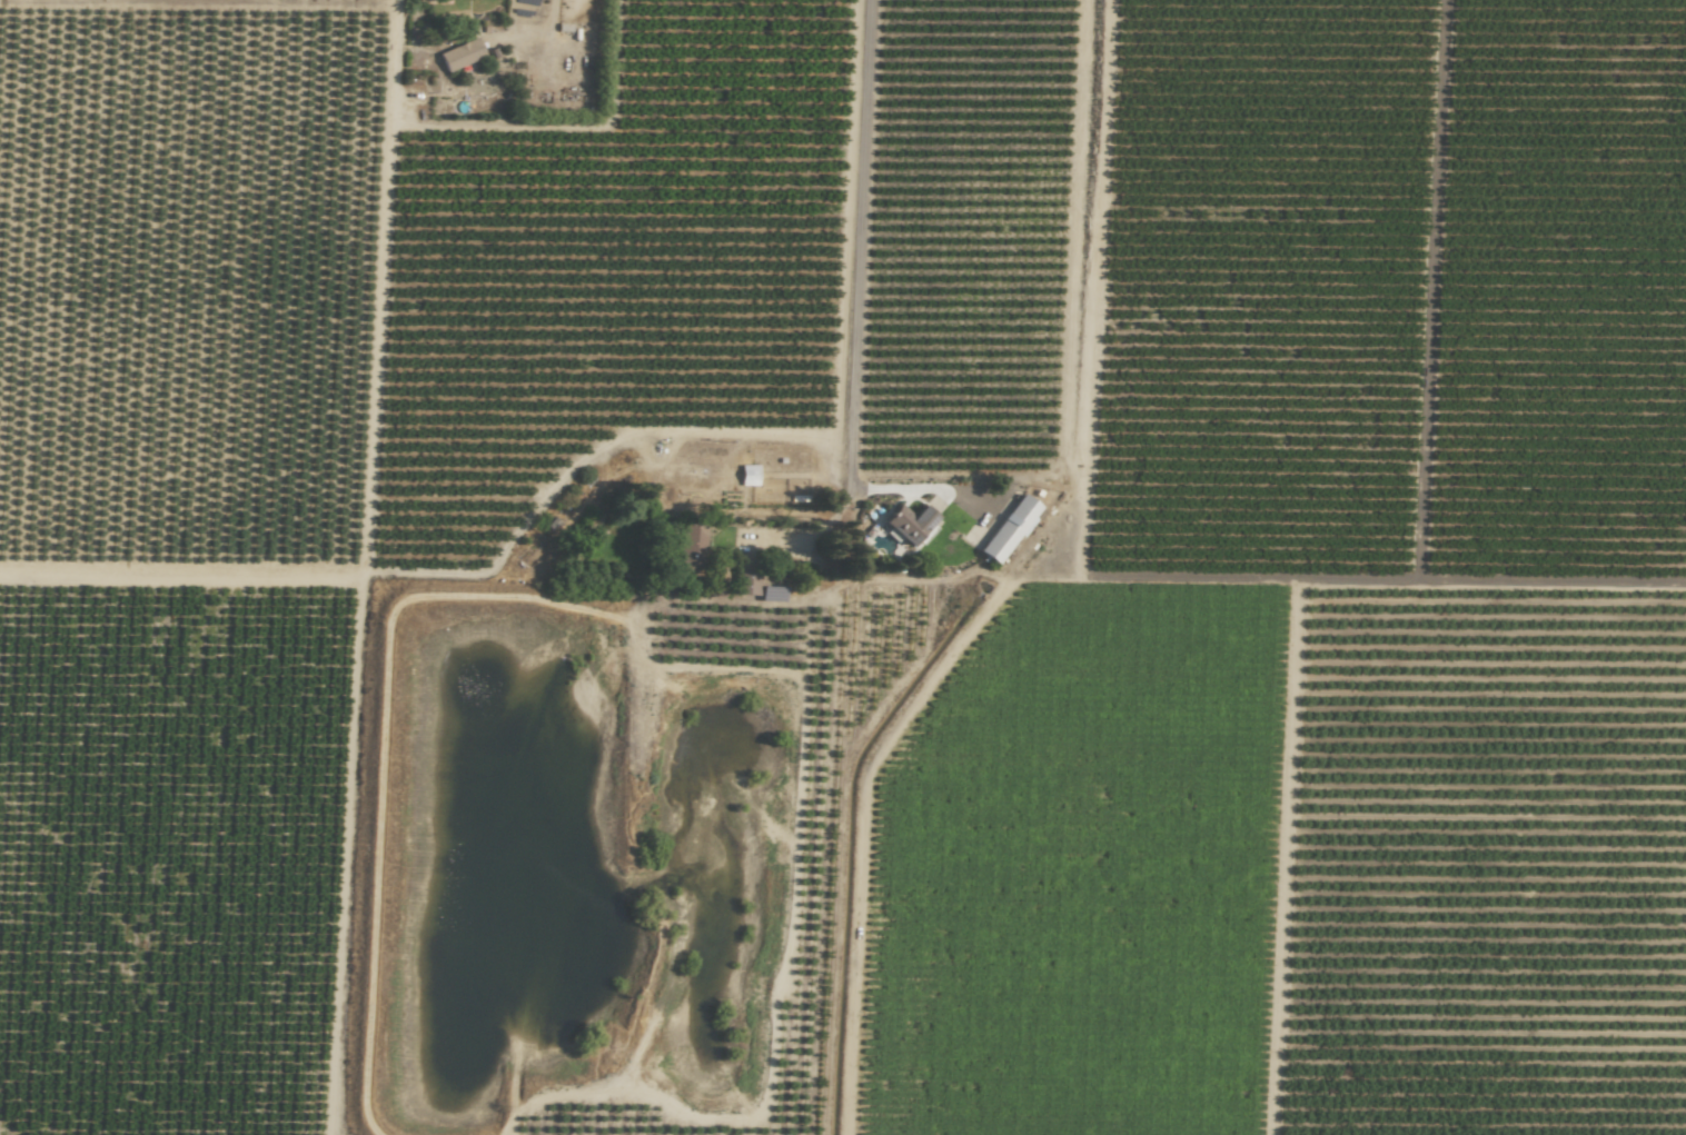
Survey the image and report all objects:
road: (343, 1)
road: (551, 19)
building: (463, 54)
road: (850, 307)
building: (750, 476)
building: (1027, 508)
road: (801, 531)

